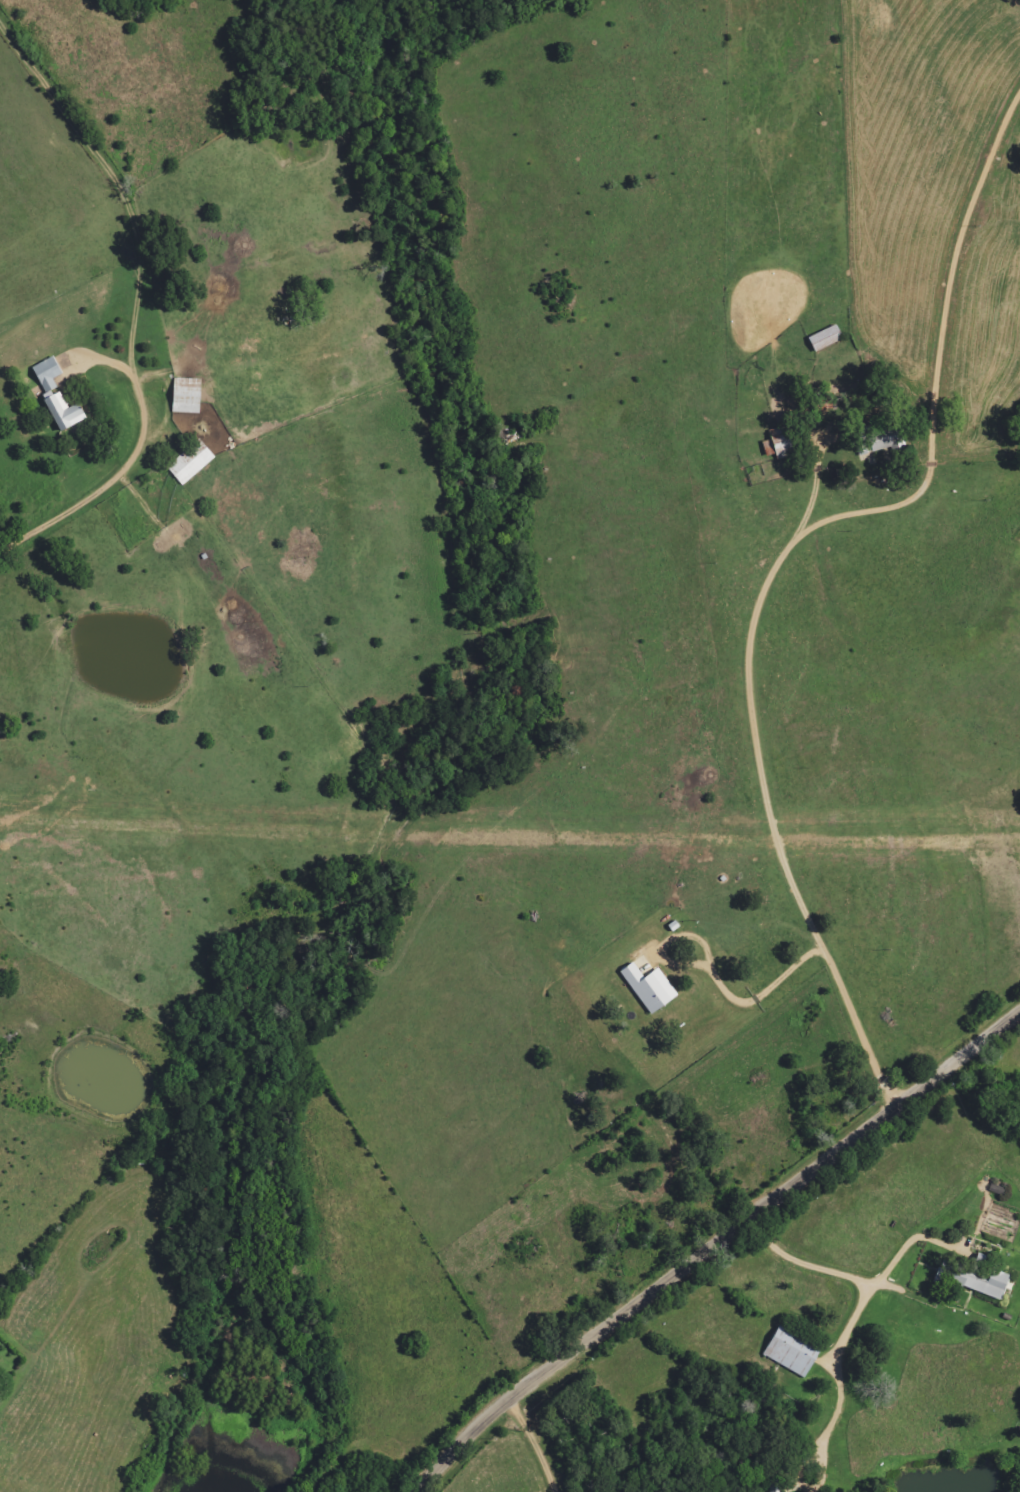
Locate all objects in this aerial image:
road: (164, 314)
building: (828, 338)
building: (58, 394)
building: (190, 395)
building: (884, 440)
building: (784, 441)
building: (194, 461)
road: (749, 828)
building: (652, 989)
road: (820, 1223)
road: (713, 1248)
building: (977, 1280)
building: (790, 1351)
road: (770, 1359)
road: (539, 1444)

